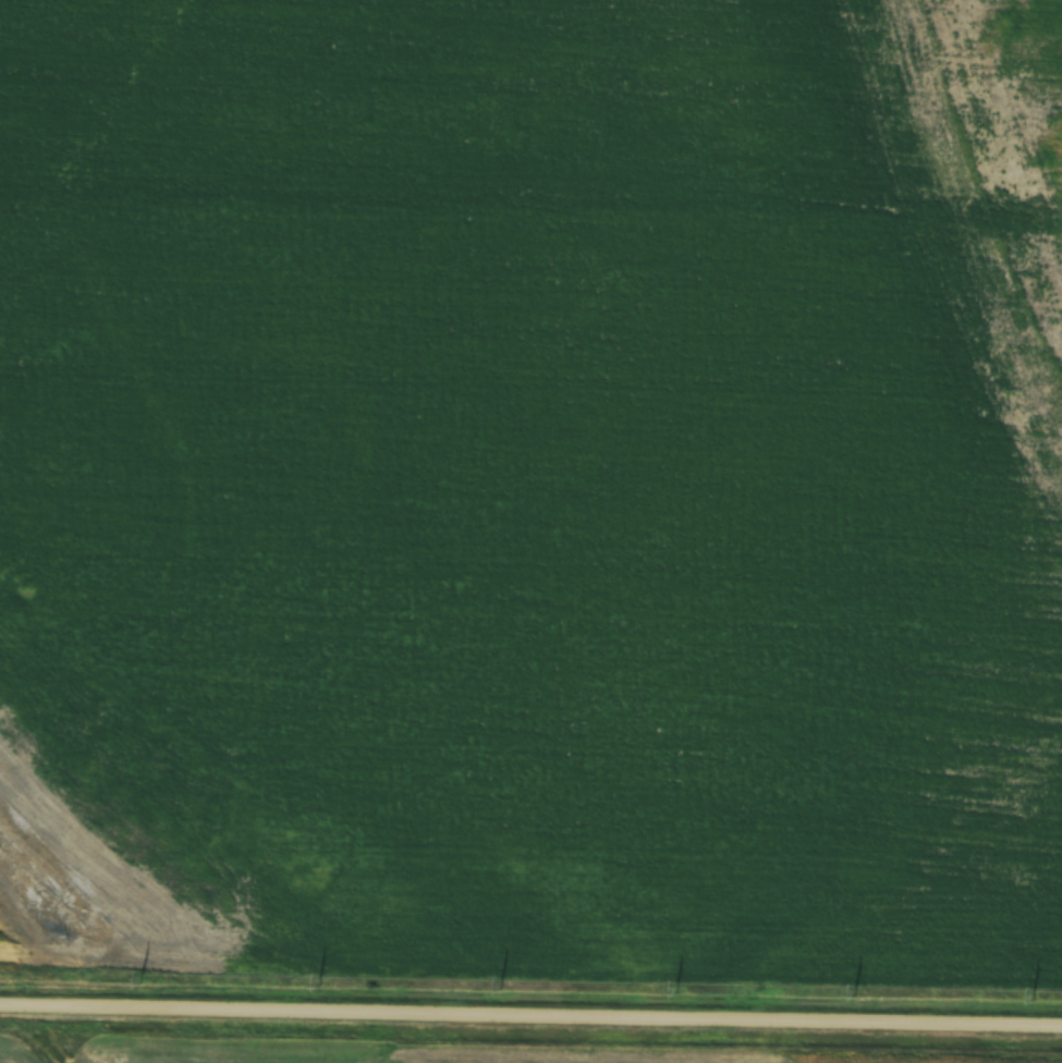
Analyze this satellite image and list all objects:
road: (530, 1018)

